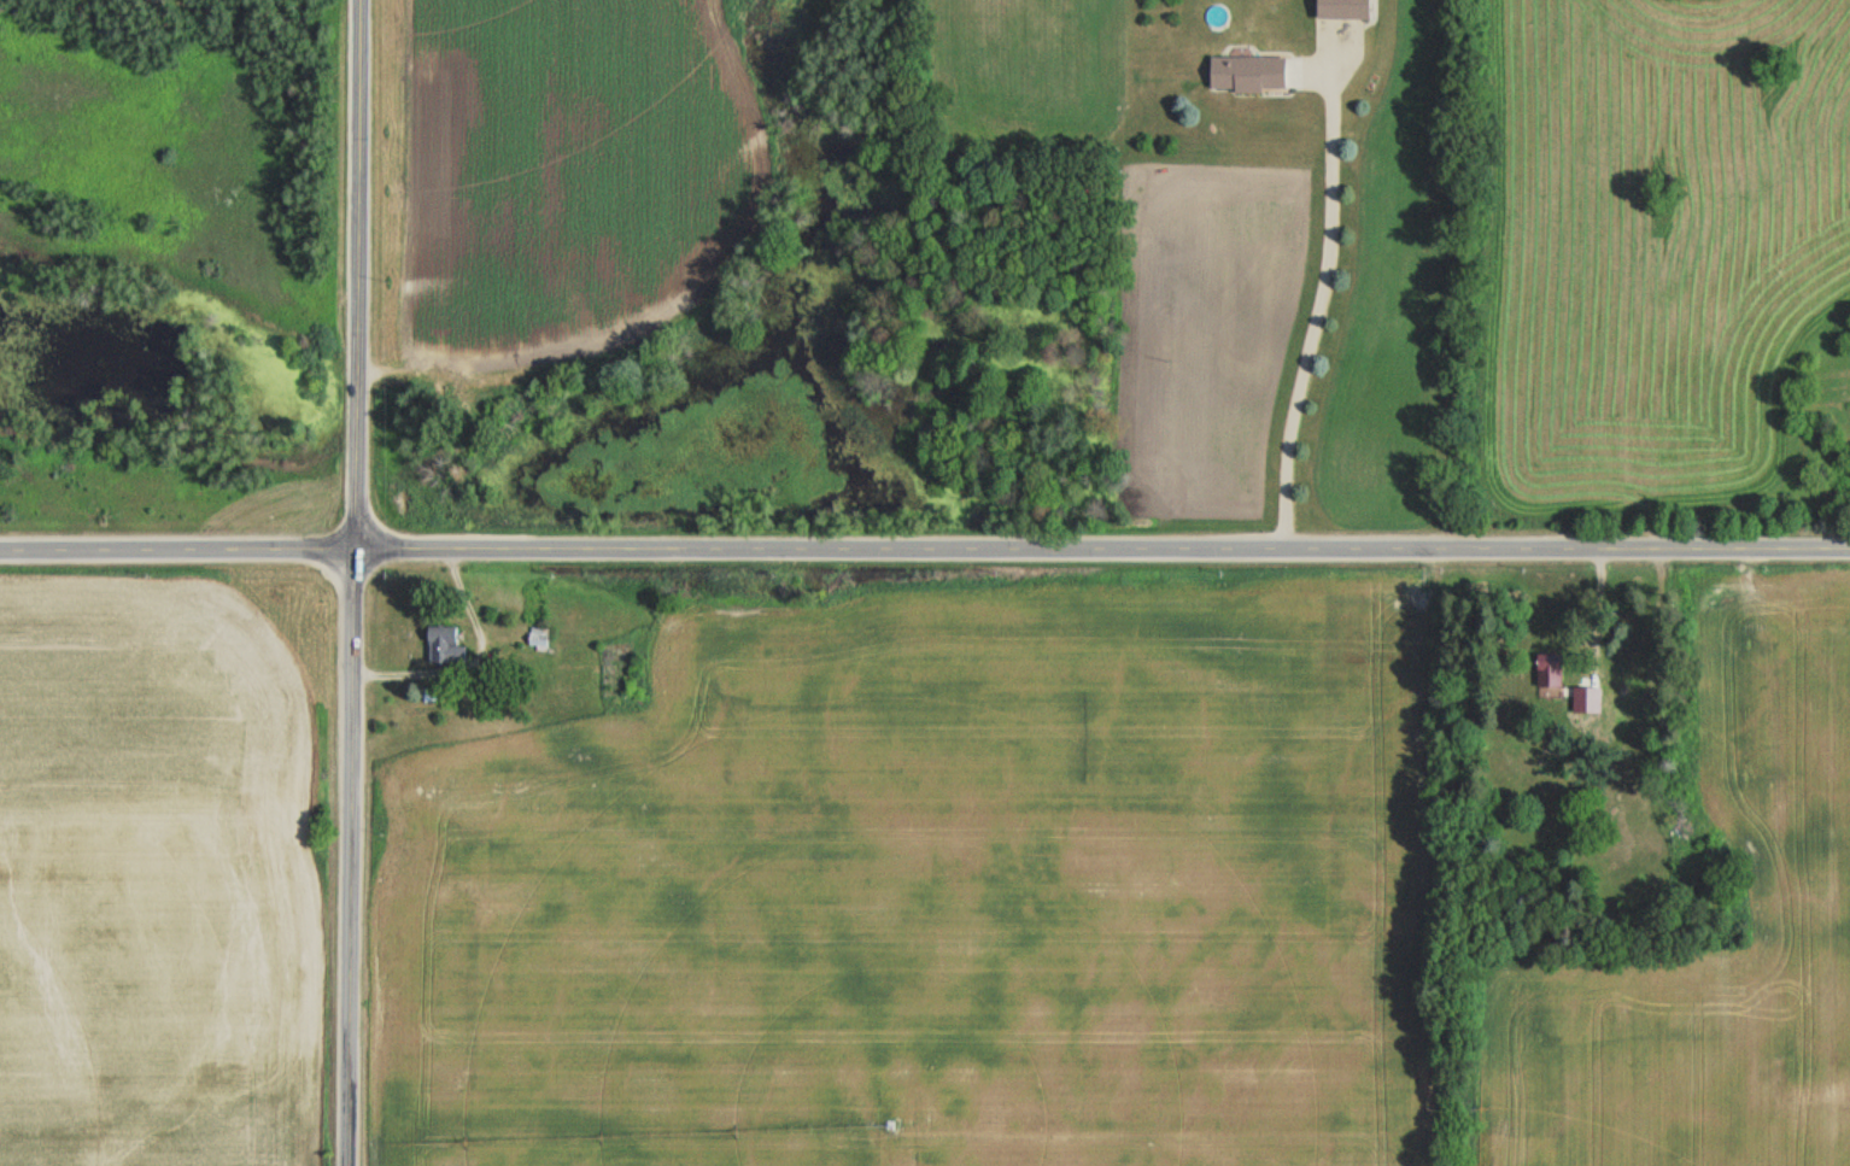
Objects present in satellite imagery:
building: (1342, 8)
building: (1247, 72)
road: (1316, 292)
road: (924, 543)
road: (358, 582)
building: (443, 648)
building: (1550, 672)

